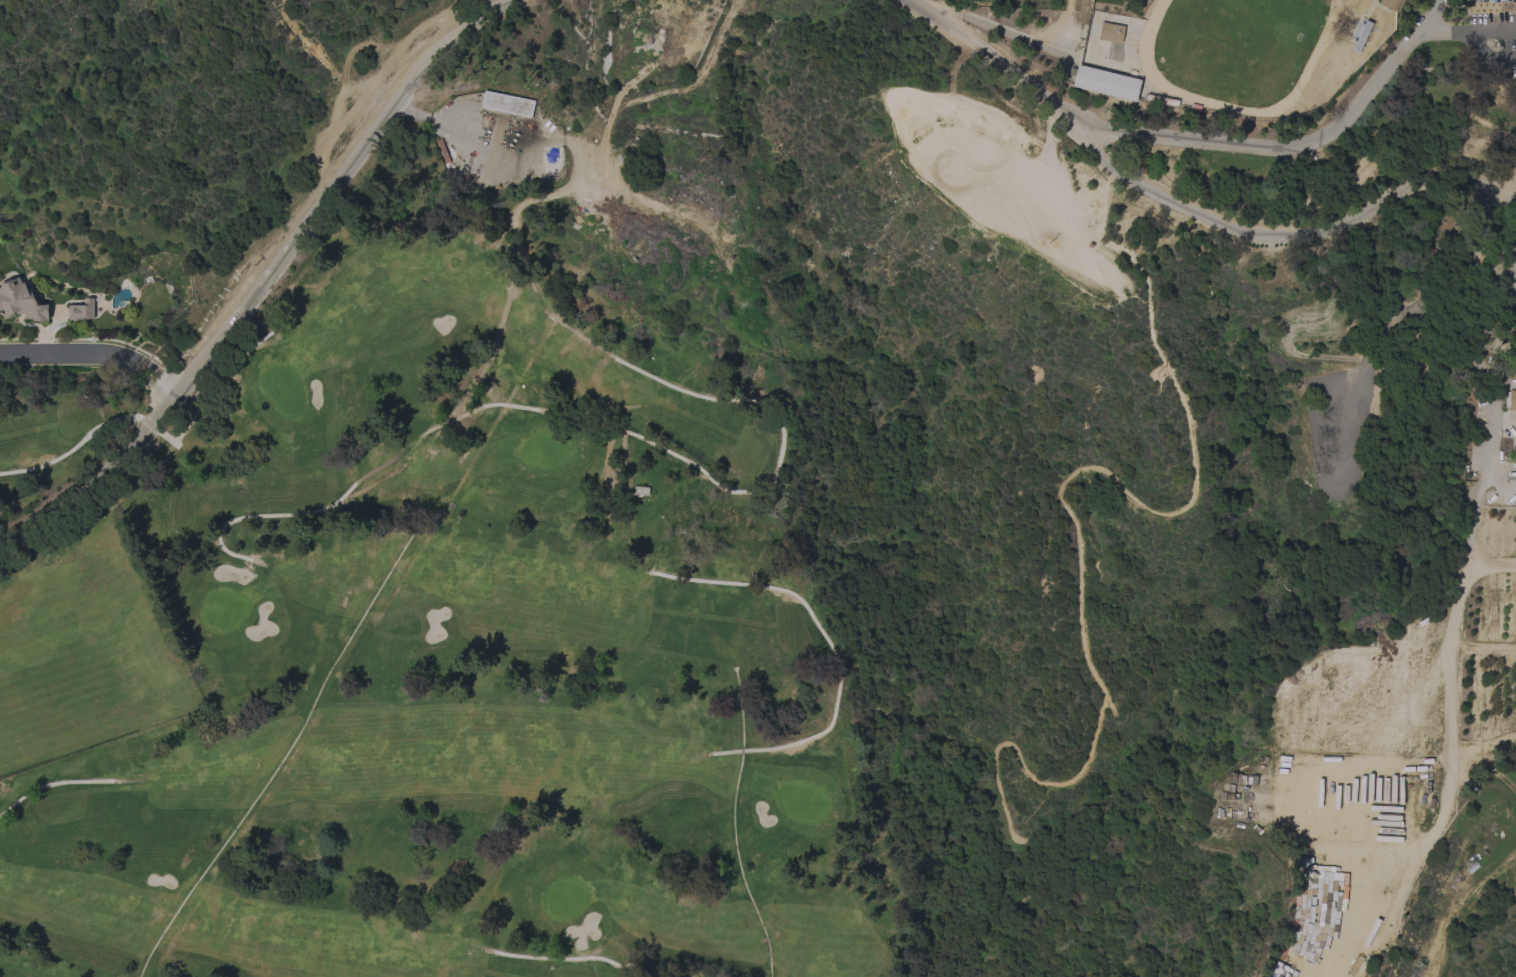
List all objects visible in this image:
building: (1392, 4)
road: (1008, 28)
road: (1442, 30)
road: (1490, 31)
building: (1111, 32)
building: (1361, 36)
road: (1486, 55)
road: (992, 63)
road: (323, 66)
building: (1105, 83)
building: (1161, 100)
building: (507, 104)
road: (1049, 123)
road: (1288, 145)
building: (443, 151)
parking lot: (1013, 200)
road: (1285, 229)
road: (1511, 272)
road: (256, 286)
building: (20, 301)
building: (81, 310)
road: (72, 356)
road: (162, 381)
building: (1510, 399)
road: (100, 424)
road: (647, 441)
park: (1169, 480)
building: (640, 491)
road: (1150, 505)
road: (294, 512)
road: (834, 656)
park: (439, 657)
road: (40, 786)

